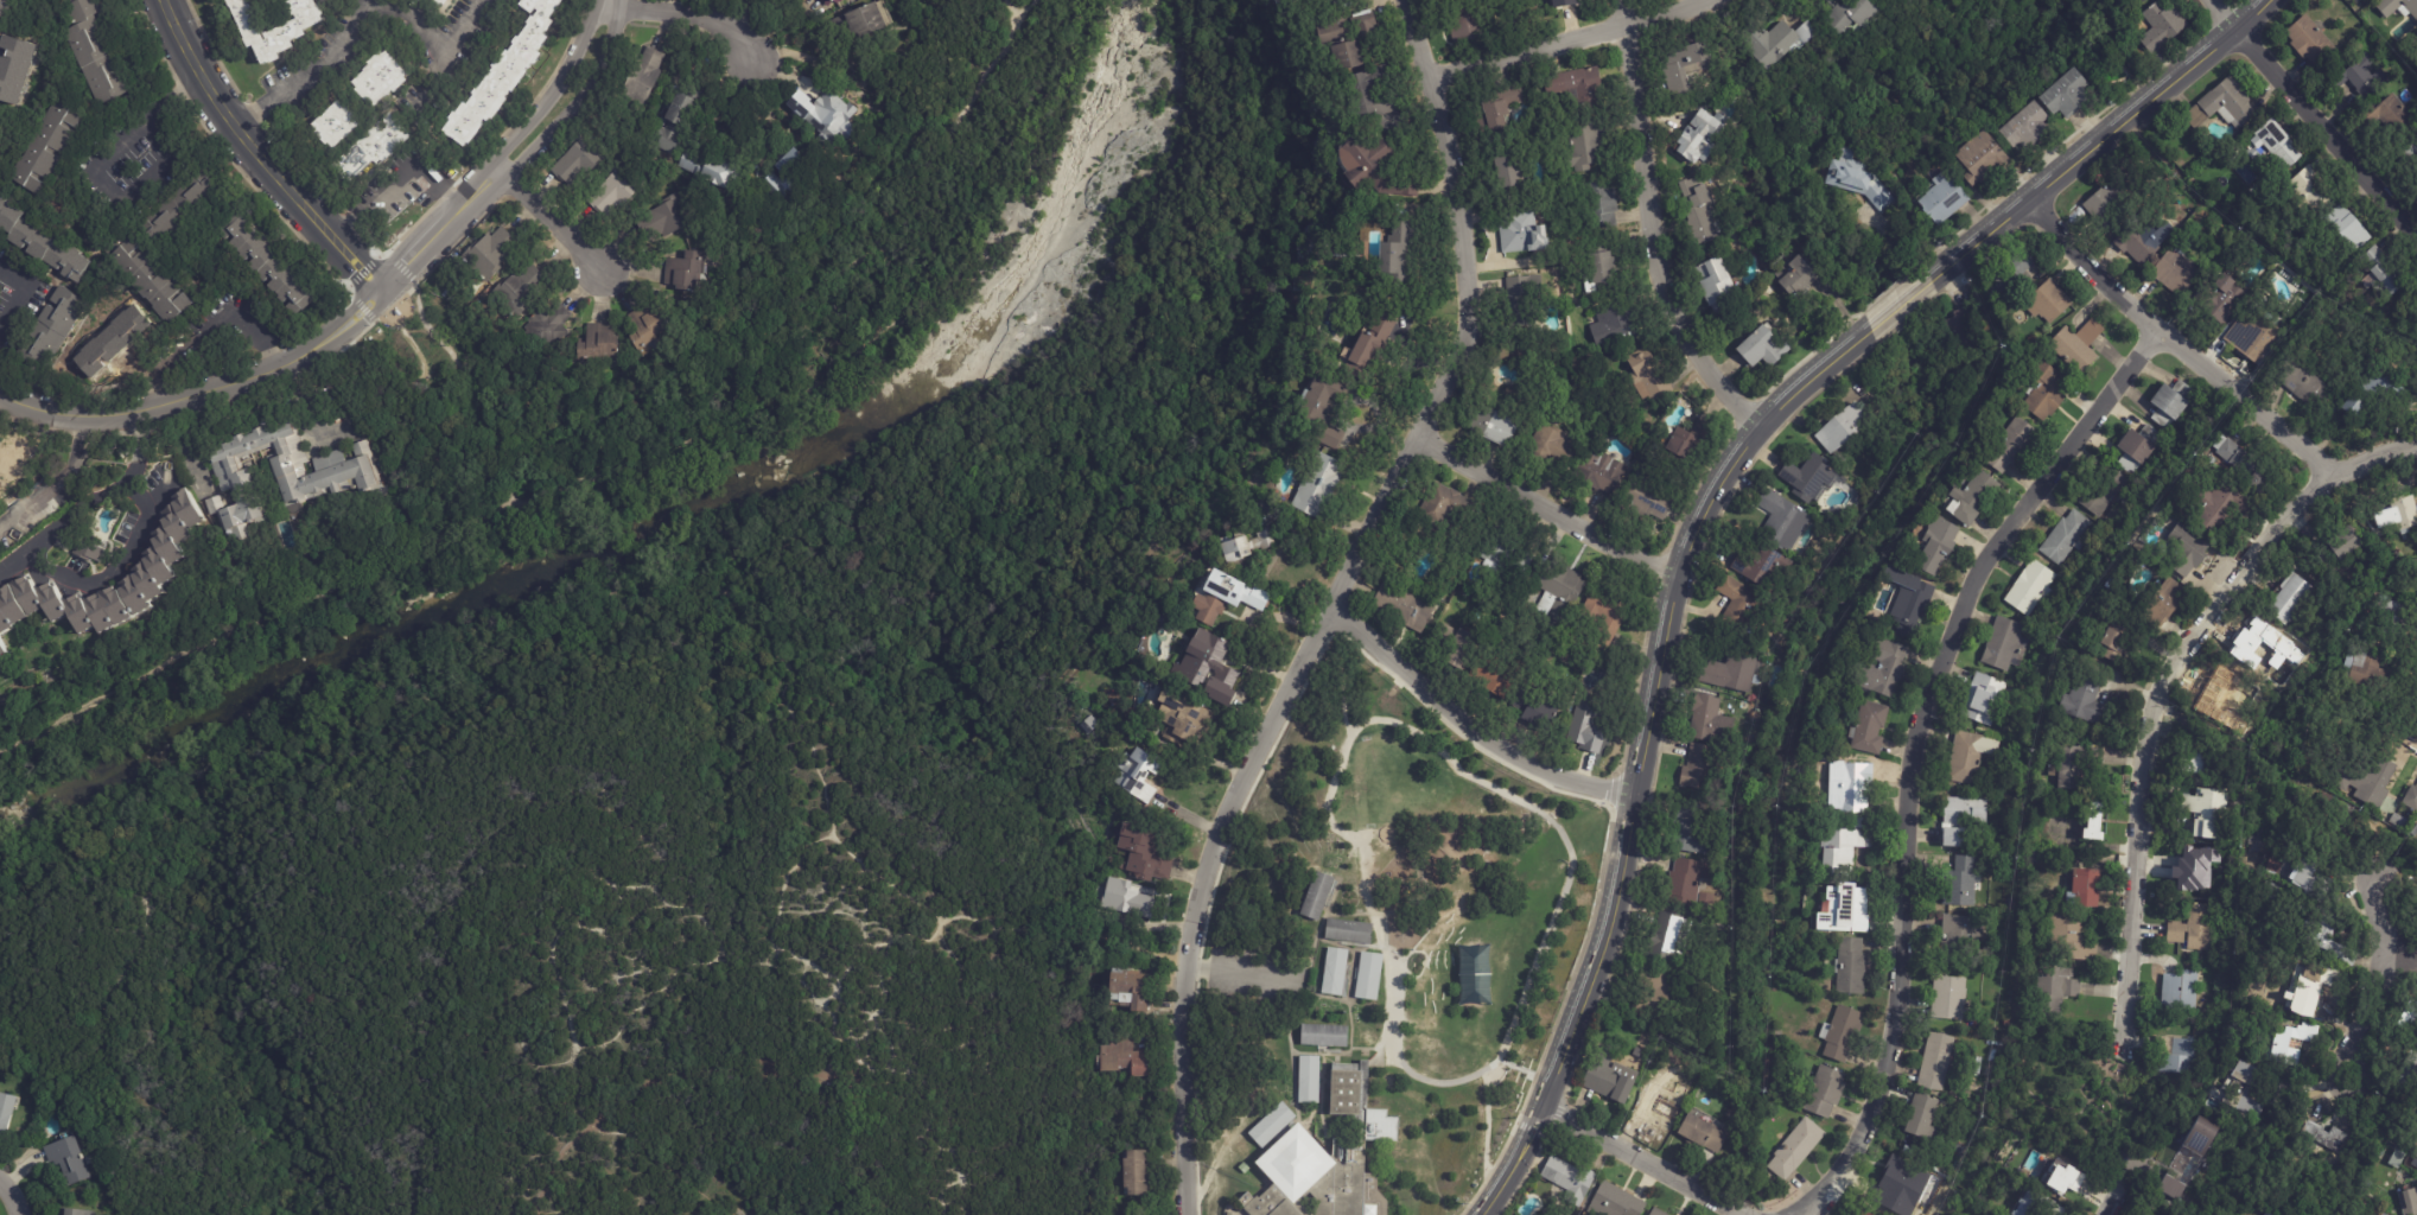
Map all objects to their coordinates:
building: (2359, 0)
building: (440, 1)
building: (1321, 2)
building: (1564, 2)
road: (610, 4)
building: (834, 4)
building: (5, 6)
building: (2397, 6)
road: (694, 15)
road: (2224, 15)
building: (1855, 17)
building: (863, 20)
building: (1464, 20)
building: (2163, 26)
building: (286, 32)
building: (1350, 38)
road: (1556, 40)
building: (1775, 42)
building: (2311, 42)
road: (435, 43)
building: (93, 51)
building: (12, 68)
building: (1687, 68)
road: (310, 72)
building: (502, 76)
building: (642, 76)
building: (2356, 76)
building: (379, 77)
building: (1578, 87)
building: (319, 93)
building: (2069, 95)
building: (1367, 98)
building: (2220, 104)
building: (1503, 109)
building: (822, 114)
building: (2396, 115)
building: (673, 125)
building: (333, 127)
building: (2030, 128)
building: (0, 131)
road: (2324, 132)
building: (2170, 133)
building: (1702, 138)
road: (2101, 139)
building: (2269, 142)
building: (370, 148)
building: (1585, 148)
building: (49, 150)
road: (260, 154)
road: (500, 154)
building: (1983, 159)
building: (793, 163)
road: (519, 164)
building: (575, 164)
building: (1509, 167)
building: (1375, 170)
building: (706, 171)
road: (393, 179)
road: (91, 180)
building: (1857, 180)
building: (770, 185)
building: (616, 190)
building: (2313, 191)
park: (1798, 198)
building: (1945, 199)
building: (1601, 205)
building: (2105, 206)
building: (177, 208)
building: (1699, 214)
building: (663, 220)
road: (554, 224)
building: (2352, 229)
road: (1649, 230)
building: (1522, 233)
building: (40, 244)
building: (2139, 244)
building: (488, 255)
building: (2374, 256)
building: (1399, 257)
building: (266, 266)
building: (1603, 269)
building: (2177, 271)
building: (685, 273)
building: (2011, 274)
building: (1798, 276)
building: (2390, 279)
building: (151, 280)
building: (1719, 287)
building: (520, 290)
road: (21, 292)
building: (2224, 299)
building: (1520, 300)
road: (1901, 303)
building: (2048, 303)
road: (807, 307)
road: (1470, 317)
building: (1613, 324)
building: (547, 325)
road: (209, 326)
building: (52, 329)
building: (644, 332)
building: (1971, 332)
building: (2257, 339)
building: (110, 342)
building: (600, 344)
building: (2074, 346)
building: (1370, 348)
building: (1764, 351)
road: (2207, 369)
building: (1649, 376)
building: (2308, 384)
road: (201, 390)
building: (2047, 392)
road: (309, 393)
building: (2378, 395)
building: (2173, 405)
building: (1324, 409)
building: (1495, 430)
building: (1844, 430)
road: (78, 437)
road: (90, 439)
road: (189, 441)
building: (1681, 443)
building: (1553, 446)
building: (2012, 446)
building: (2138, 447)
building: (2237, 456)
building: (2213, 460)
building: (1601, 472)
road: (65, 473)
building: (282, 475)
building: (1808, 479)
building: (2262, 485)
building: (1318, 486)
building: (2100, 494)
building: (1649, 495)
road: (158, 496)
building: (1974, 500)
road: (27, 504)
building: (2218, 508)
road: (1545, 509)
building: (1448, 510)
building: (1781, 517)
building: (2400, 517)
road: (75, 519)
building: (2067, 539)
building: (1938, 545)
road: (122, 546)
building: (1247, 546)
building: (2342, 548)
building: (88, 551)
building: (2189, 552)
building: (1506, 559)
building: (159, 562)
building: (1761, 567)
road: (362, 573)
building: (2033, 590)
building: (1223, 594)
building: (1559, 594)
building: (2291, 599)
building: (2167, 604)
building: (1741, 606)
building: (1403, 609)
building: (1914, 611)
building: (1605, 617)
building: (2398, 617)
road: (586, 623)
building: (2365, 624)
building: (2355, 634)
building: (2119, 638)
building: (2006, 645)
building: (1458, 648)
building: (2, 649)
building: (1207, 661)
building: (1884, 669)
building: (2370, 672)
building: (1731, 673)
building: (1502, 678)
building: (2086, 694)
building: (1984, 700)
building: (1165, 702)
park: (697, 704)
building: (1537, 711)
building: (1709, 720)
building: (1189, 725)
building: (1588, 726)
road: (1467, 727)
building: (1870, 730)
road: (2148, 733)
road: (1639, 751)
road: (1913, 752)
building: (1971, 756)
road: (816, 757)
building: (2197, 759)
building: (2076, 764)
building: (1700, 769)
building: (1136, 774)
building: (2375, 780)
building: (1953, 784)
building: (1856, 787)
building: (1966, 810)
building: (2209, 812)
building: (2097, 820)
building: (2415, 822)
building: (1692, 832)
road: (98, 834)
building: (1957, 836)
building: (1843, 850)
road: (657, 853)
building: (1144, 854)
building: (2035, 855)
park: (1388, 865)
building: (2194, 869)
building: (2305, 872)
building: (2215, 878)
building: (1688, 882)
building: (1960, 882)
road: (866, 883)
building: (2087, 889)
road: (908, 890)
building: (1317, 895)
building: (1122, 899)
road: (1204, 899)
building: (1852, 907)
road: (822, 909)
road: (1000, 921)
building: (2195, 928)
building: (2326, 928)
building: (1349, 931)
building: (1671, 935)
building: (2071, 936)
building: (1961, 937)
road: (930, 939)
road: (1128, 942)
road: (949, 947)
road: (2400, 952)
building: (1851, 966)
road: (686, 967)
road: (1242, 968)
parking lot: (1251, 972)
building: (1335, 972)
building: (1476, 975)
road: (2374, 975)
building: (1369, 977)
building: (1659, 984)
road: (807, 987)
building: (2316, 987)
building: (2056, 990)
building: (1131, 991)
building: (2182, 991)
building: (1949, 998)
building: (2226, 1013)
building: (2408, 1018)
building: (2265, 1030)
building: (1842, 1033)
building: (1324, 1035)
road: (575, 1043)
building: (2283, 1045)
building: (1955, 1055)
building: (1122, 1057)
building: (2181, 1057)
building: (1936, 1062)
building: (1982, 1064)
building: (2410, 1074)
building: (1609, 1077)
building: (1310, 1080)
building: (1346, 1089)
building: (1826, 1092)
building: (2245, 1099)
building: (1658, 1108)
building: (5, 1113)
building: (1921, 1115)
building: (1271, 1125)
building: (1381, 1126)
building: (1704, 1133)
building: (2202, 1136)
building: (2327, 1137)
road: (577, 1140)
building: (1796, 1149)
road: (1642, 1159)
building: (66, 1160)
building: (2415, 1163)
building: (1244, 1169)
building: (1134, 1173)
building: (2060, 1173)
road: (416, 1178)
building: (1569, 1179)
building: (1316, 1181)
building: (1896, 1182)
building: (2171, 1188)
road: (11, 1197)
building: (2371, 1198)
road: (2112, 1201)
building: (1616, 1202)
building: (2410, 1202)
building: (2284, 1204)
building: (2040, 1206)
building: (75, 1213)
building: (1658, 1213)
building: (1864, 1213)
building: (2146, 1214)

